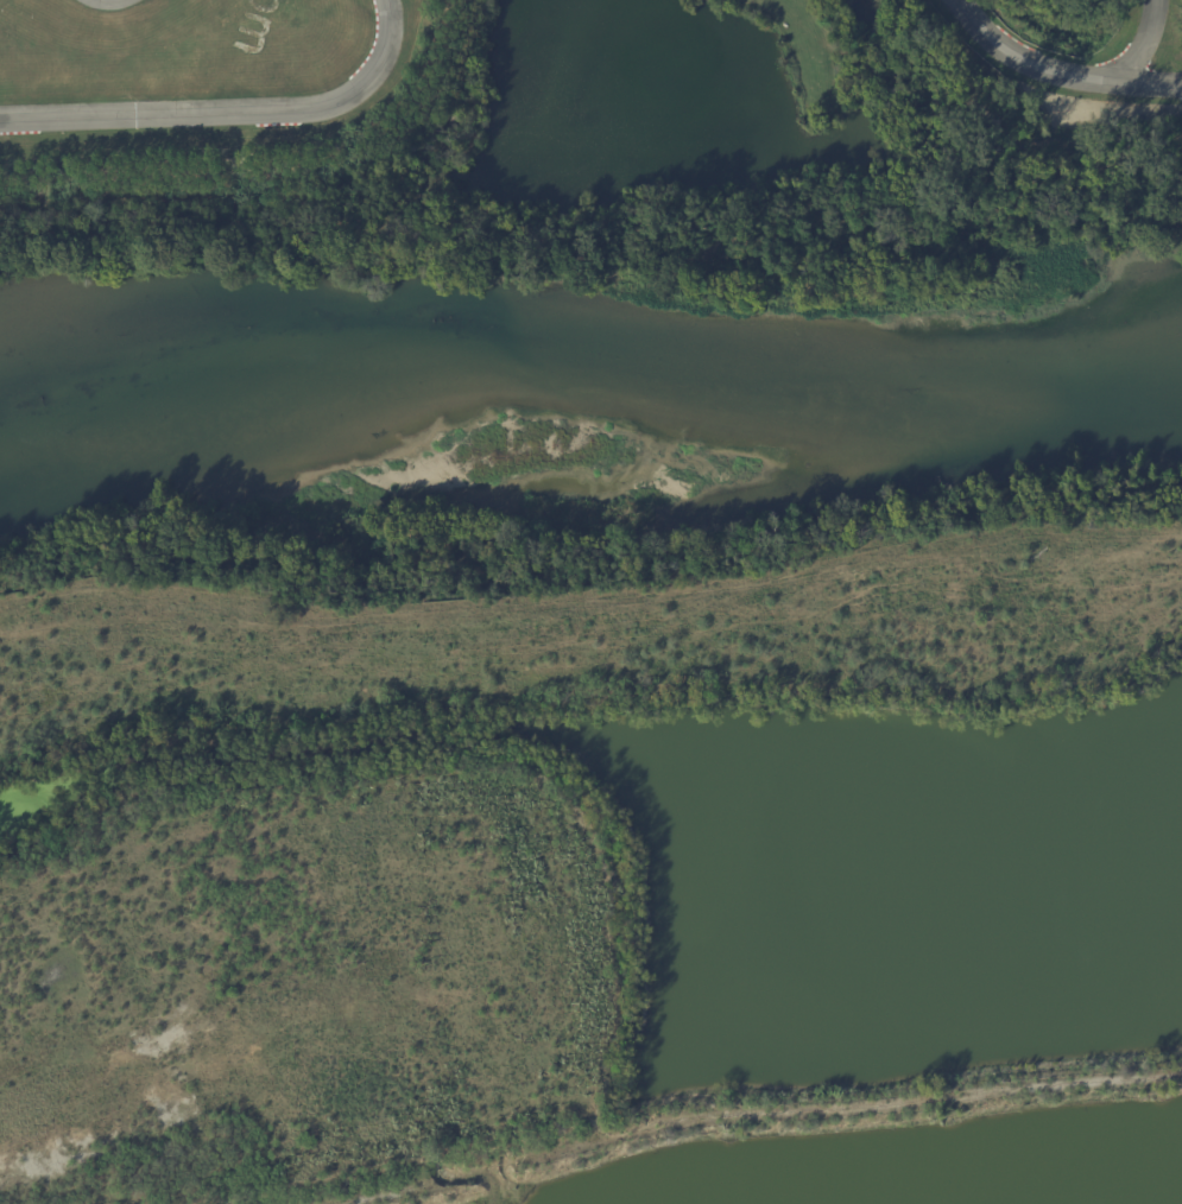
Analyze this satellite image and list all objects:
raceway: (1069, 74)
raceway: (1139, 81)
raceway: (232, 110)
park: (631, 173)
river: (586, 391)

